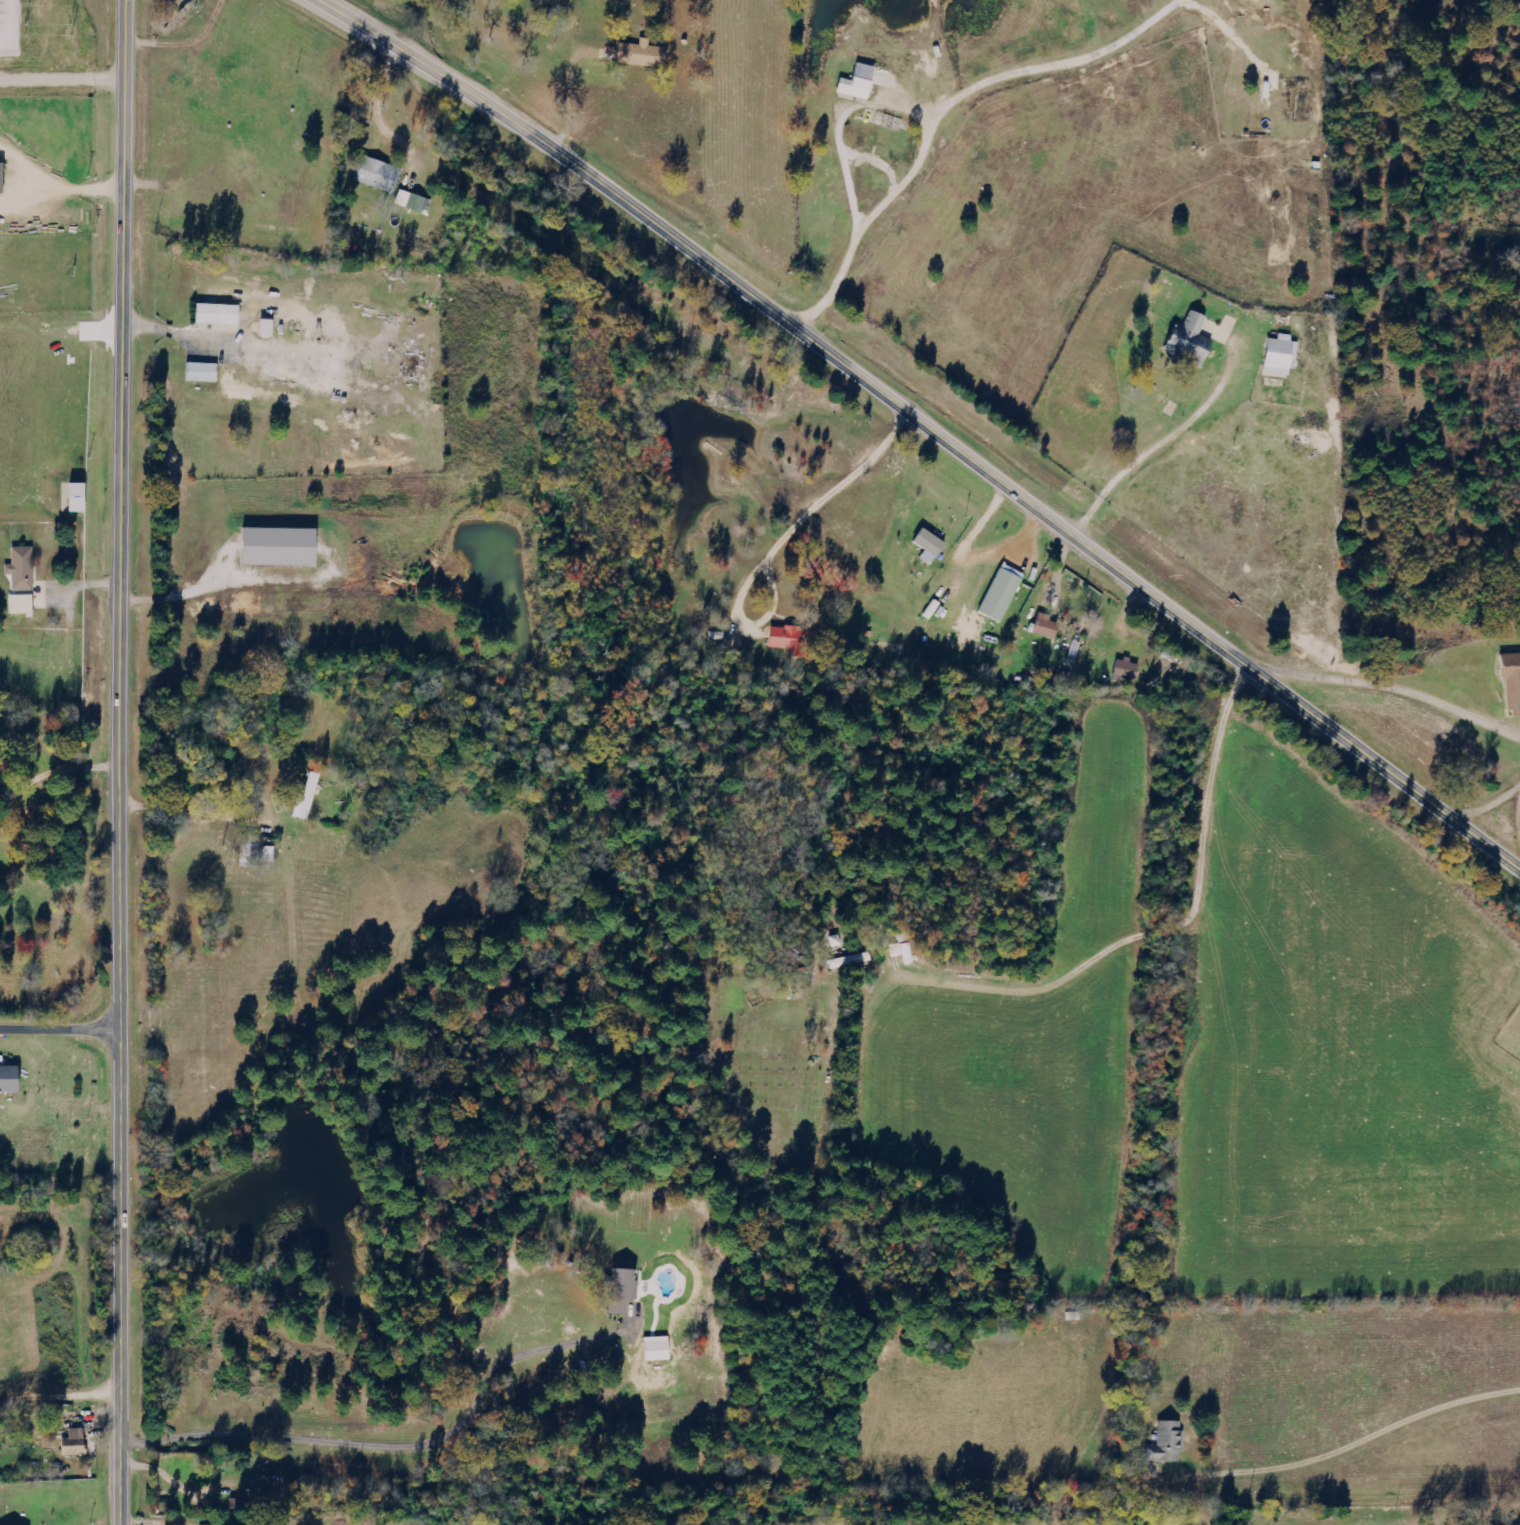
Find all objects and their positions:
building: (643, 54)
building: (863, 82)
road: (374, 96)
road: (935, 108)
road: (26, 170)
building: (383, 175)
building: (4, 178)
road: (84, 198)
building: (414, 201)
road: (21, 208)
building: (223, 315)
building: (1194, 341)
building: (1278, 356)
building: (206, 373)
road: (922, 422)
road: (1165, 448)
building: (83, 498)
building: (933, 546)
building: (285, 547)
building: (25, 569)
building: (1005, 593)
building: (25, 605)
building: (1048, 627)
building: (792, 639)
building: (1129, 670)
building: (1509, 678)
road: (1391, 690)
road: (120, 762)
road: (65, 779)
building: (311, 796)
road: (480, 1025)
road: (58, 1030)
building: (12, 1078)
building: (626, 1289)
building: (661, 1349)
building: (78, 1443)
building: (1170, 1443)
building: (260, 1490)

